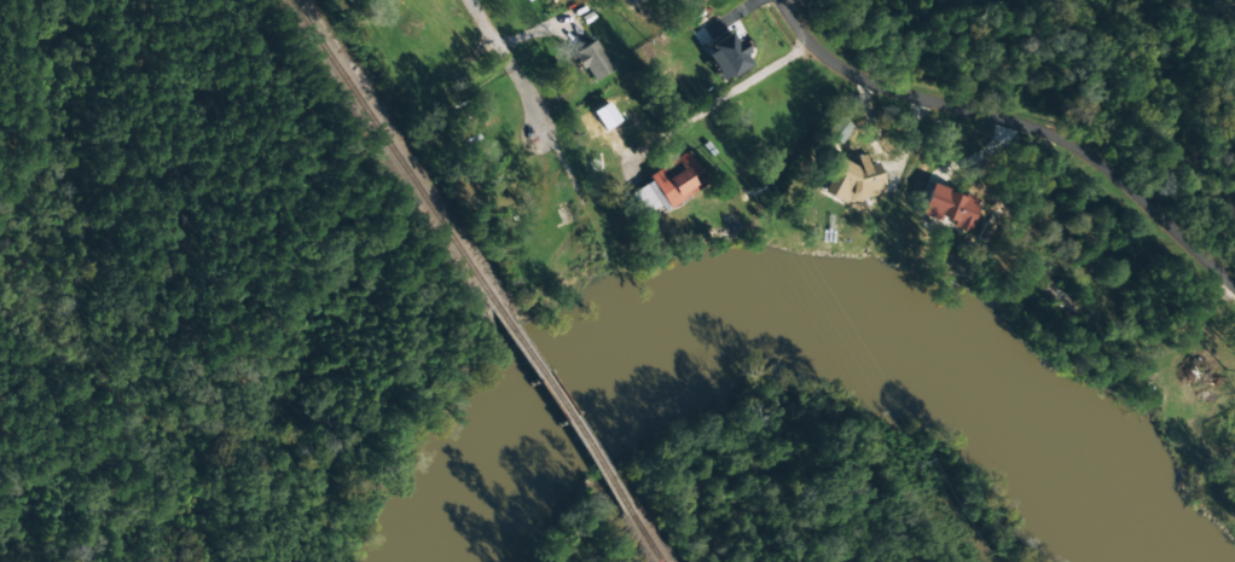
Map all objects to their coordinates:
building: (725, 56)
road: (503, 57)
building: (591, 62)
road: (707, 109)
road: (1011, 117)
building: (835, 129)
railway: (396, 152)
building: (851, 181)
building: (667, 185)
power tower: (742, 191)
building: (945, 207)
river: (781, 317)
railway: (561, 404)
power tower: (911, 465)
railway: (643, 533)

